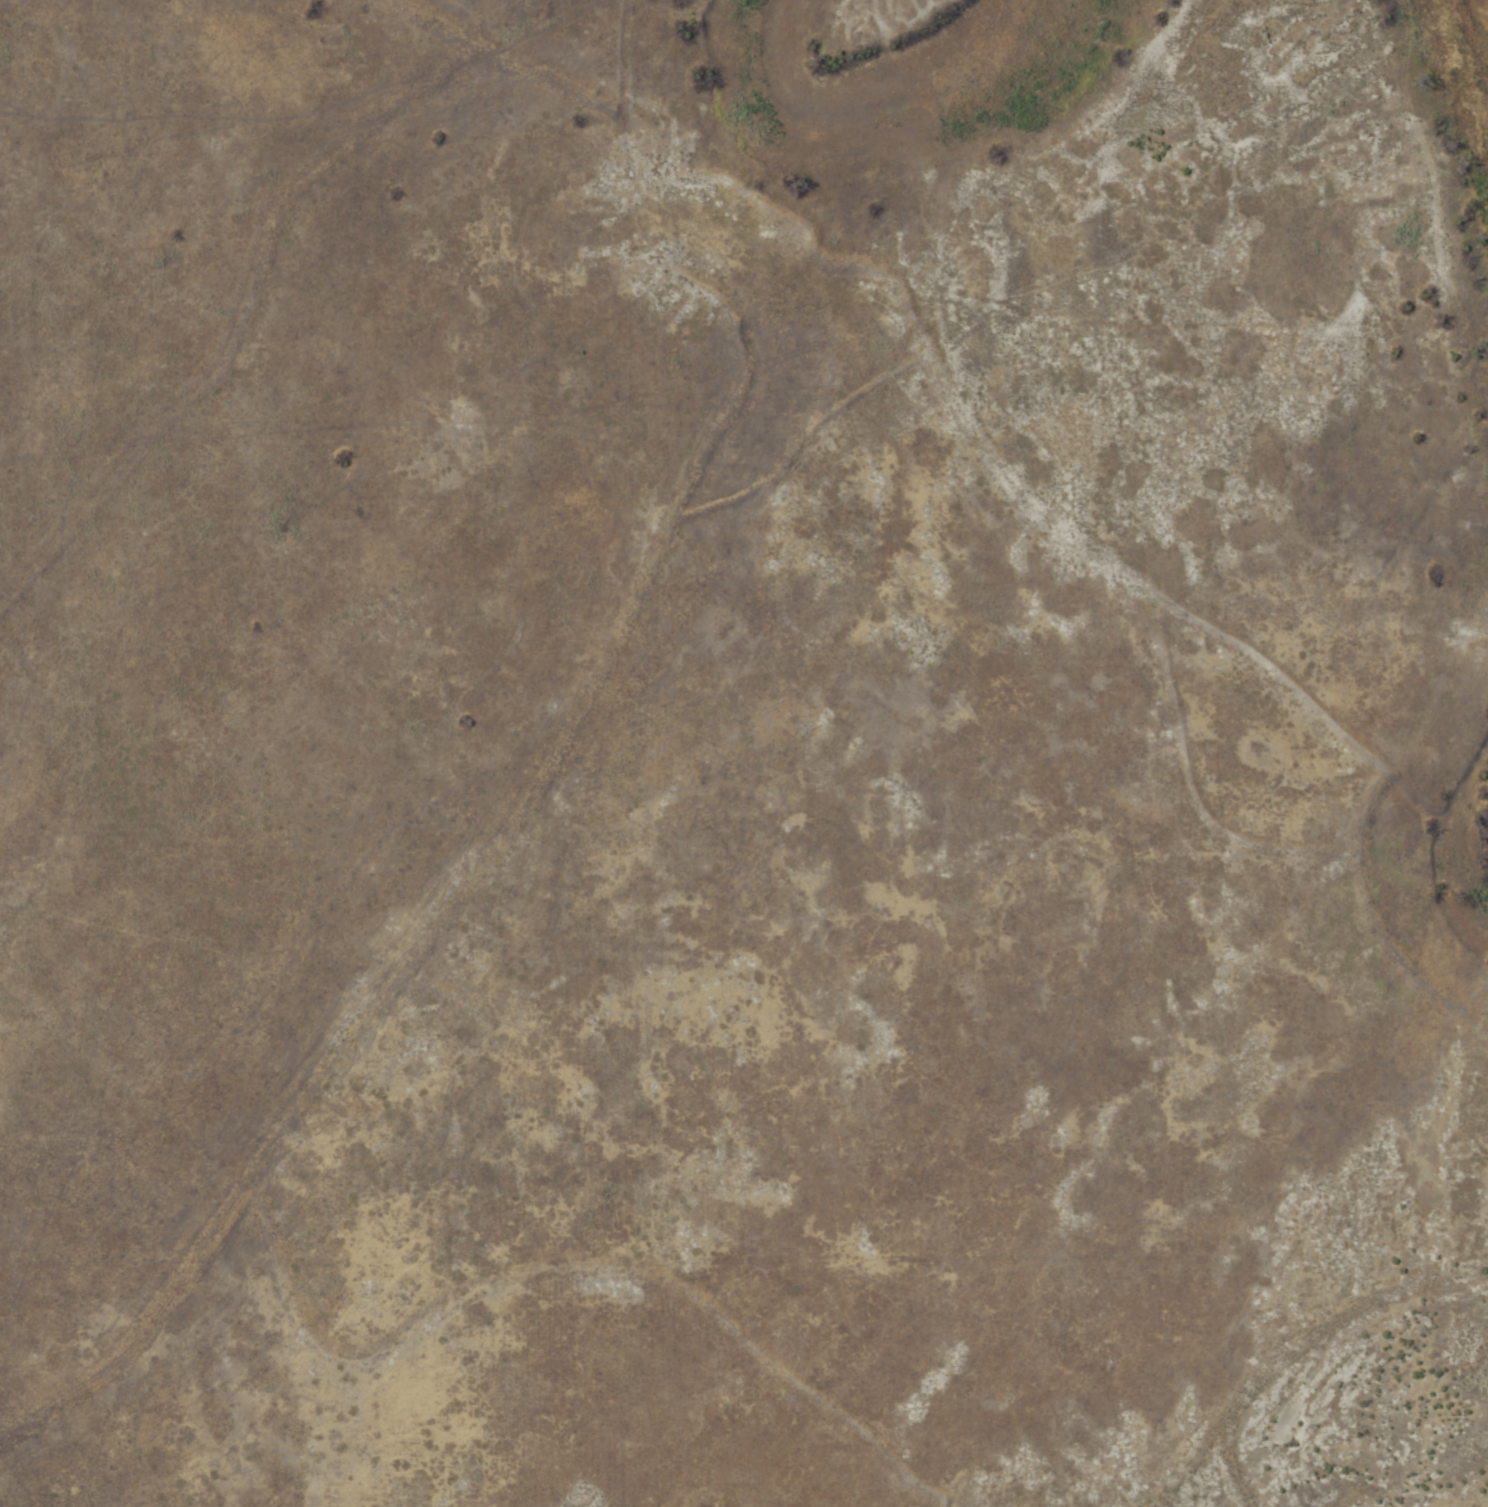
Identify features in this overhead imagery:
road: (1378, 1406)

